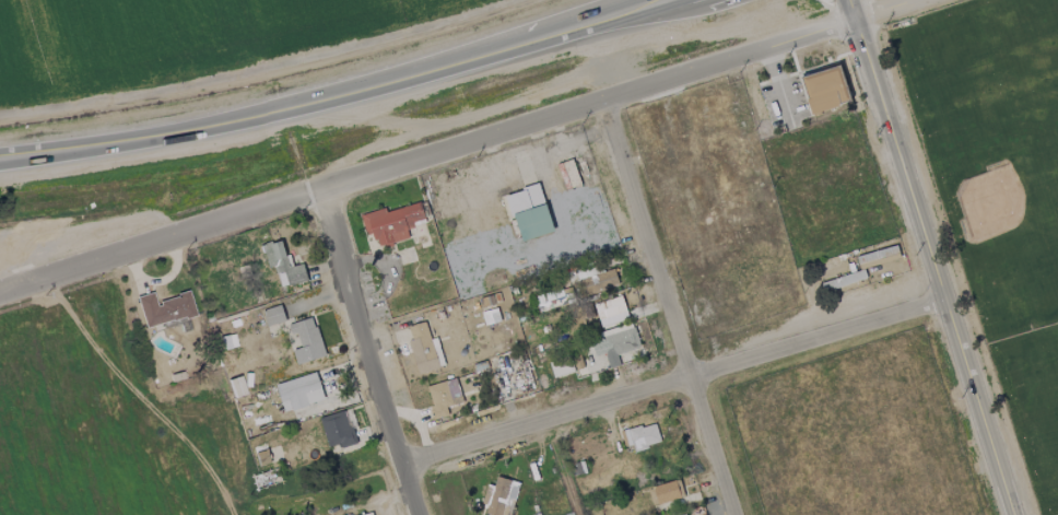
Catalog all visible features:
building: (824, 89)
road: (336, 96)
road: (457, 145)
building: (528, 212)
building: (391, 223)
road: (473, 229)
road: (929, 257)
building: (282, 264)
building: (591, 279)
building: (843, 280)
building: (548, 300)
building: (163, 307)
road: (668, 307)
building: (610, 311)
building: (272, 315)
building: (306, 340)
building: (422, 348)
building: (609, 348)
road: (366, 351)
road: (670, 381)
building: (298, 391)
building: (442, 396)
road: (416, 421)
building: (337, 429)
building: (643, 436)
building: (667, 491)
building: (499, 496)
building: (683, 514)

